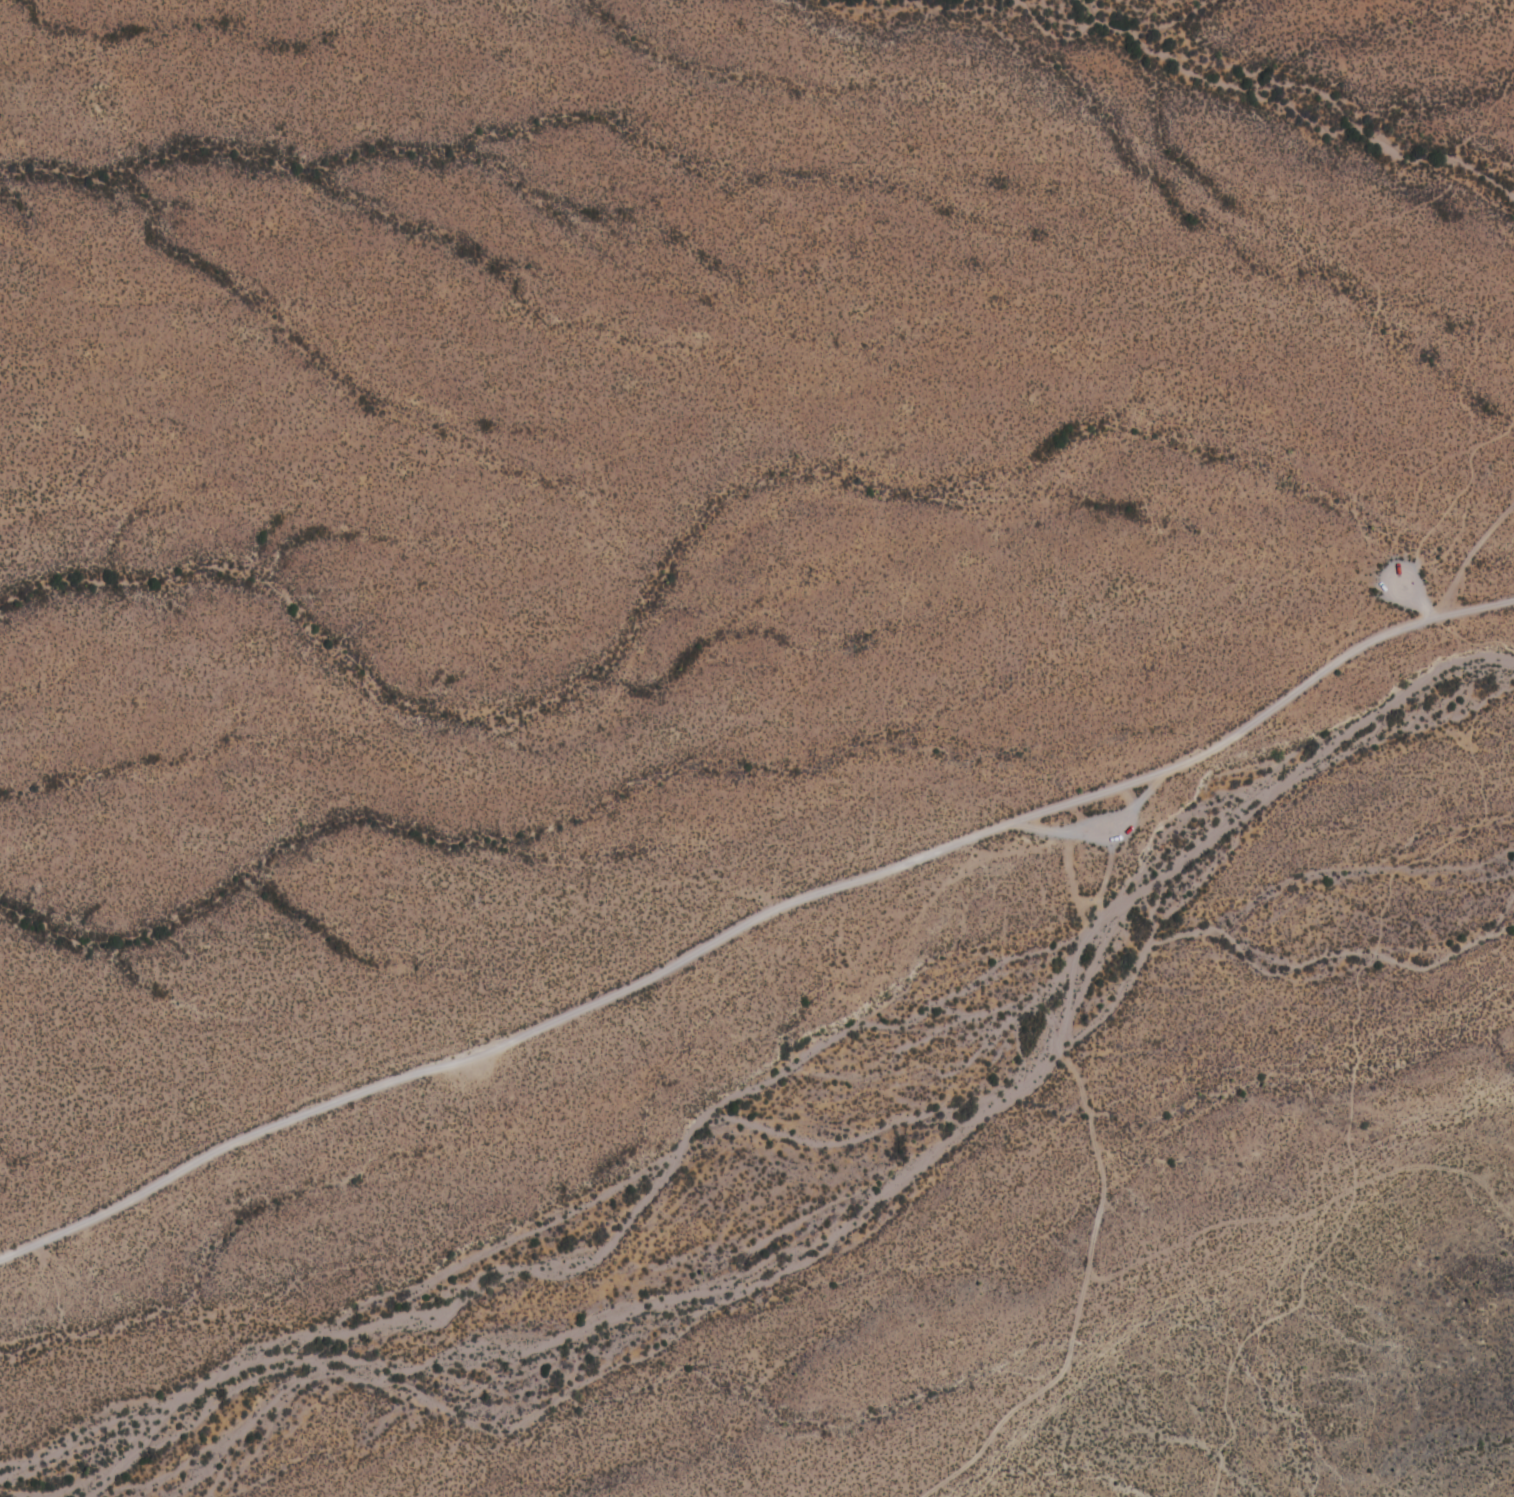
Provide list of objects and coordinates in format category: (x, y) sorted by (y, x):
road: (1512, 464)
road: (1464, 502)
road: (1399, 525)
road: (1475, 550)
parking lot: (1411, 590)
road: (1481, 600)
parking lot: (1101, 820)
road: (1113, 841)
road: (727, 934)
road: (1075, 977)
road: (1350, 1029)
road: (1079, 1298)

